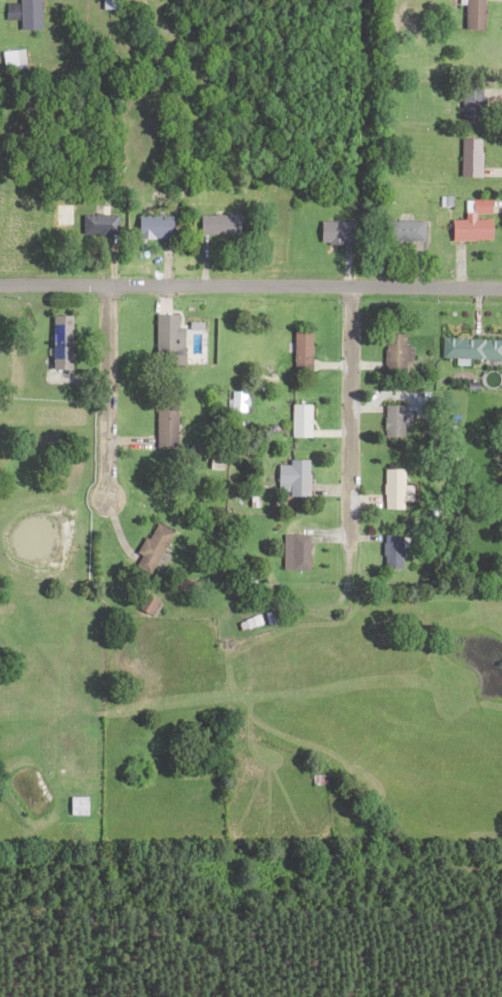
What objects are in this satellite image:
building: (104, 3)
building: (19, 12)
building: (469, 13)
building: (5, 58)
building: (468, 155)
building: (471, 220)
building: (95, 222)
building: (213, 222)
building: (148, 224)
building: (401, 227)
building: (332, 230)
road: (250, 285)
building: (162, 337)
building: (56, 340)
building: (470, 346)
building: (297, 348)
building: (393, 351)
road: (103, 392)
building: (232, 399)
road: (348, 413)
building: (296, 418)
building: (391, 418)
building: (160, 421)
building: (289, 476)
building: (392, 487)
building: (147, 547)
building: (389, 549)
building: (292, 550)
building: (185, 583)
building: (143, 604)
building: (74, 802)

